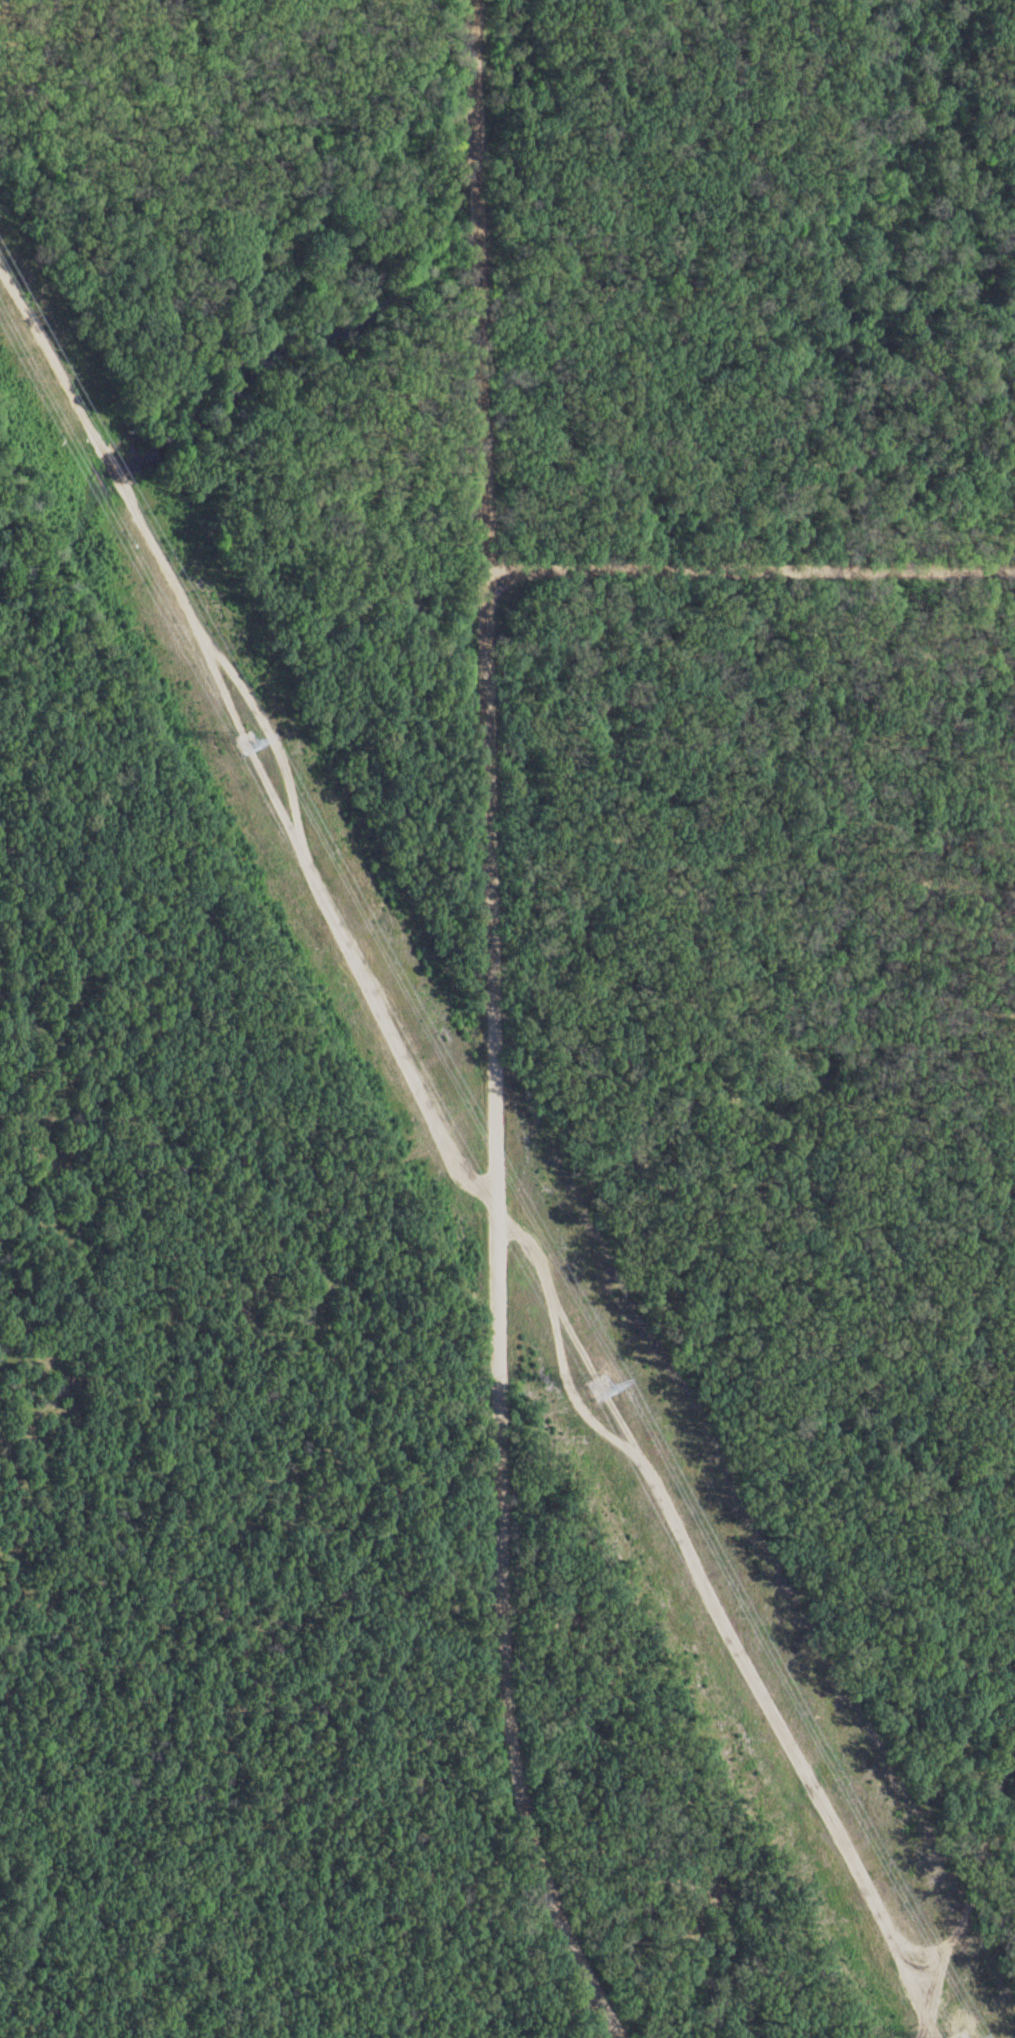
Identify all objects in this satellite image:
road: (751, 569)
power tower: (242, 742)
road: (495, 1030)
power tower: (599, 1387)

